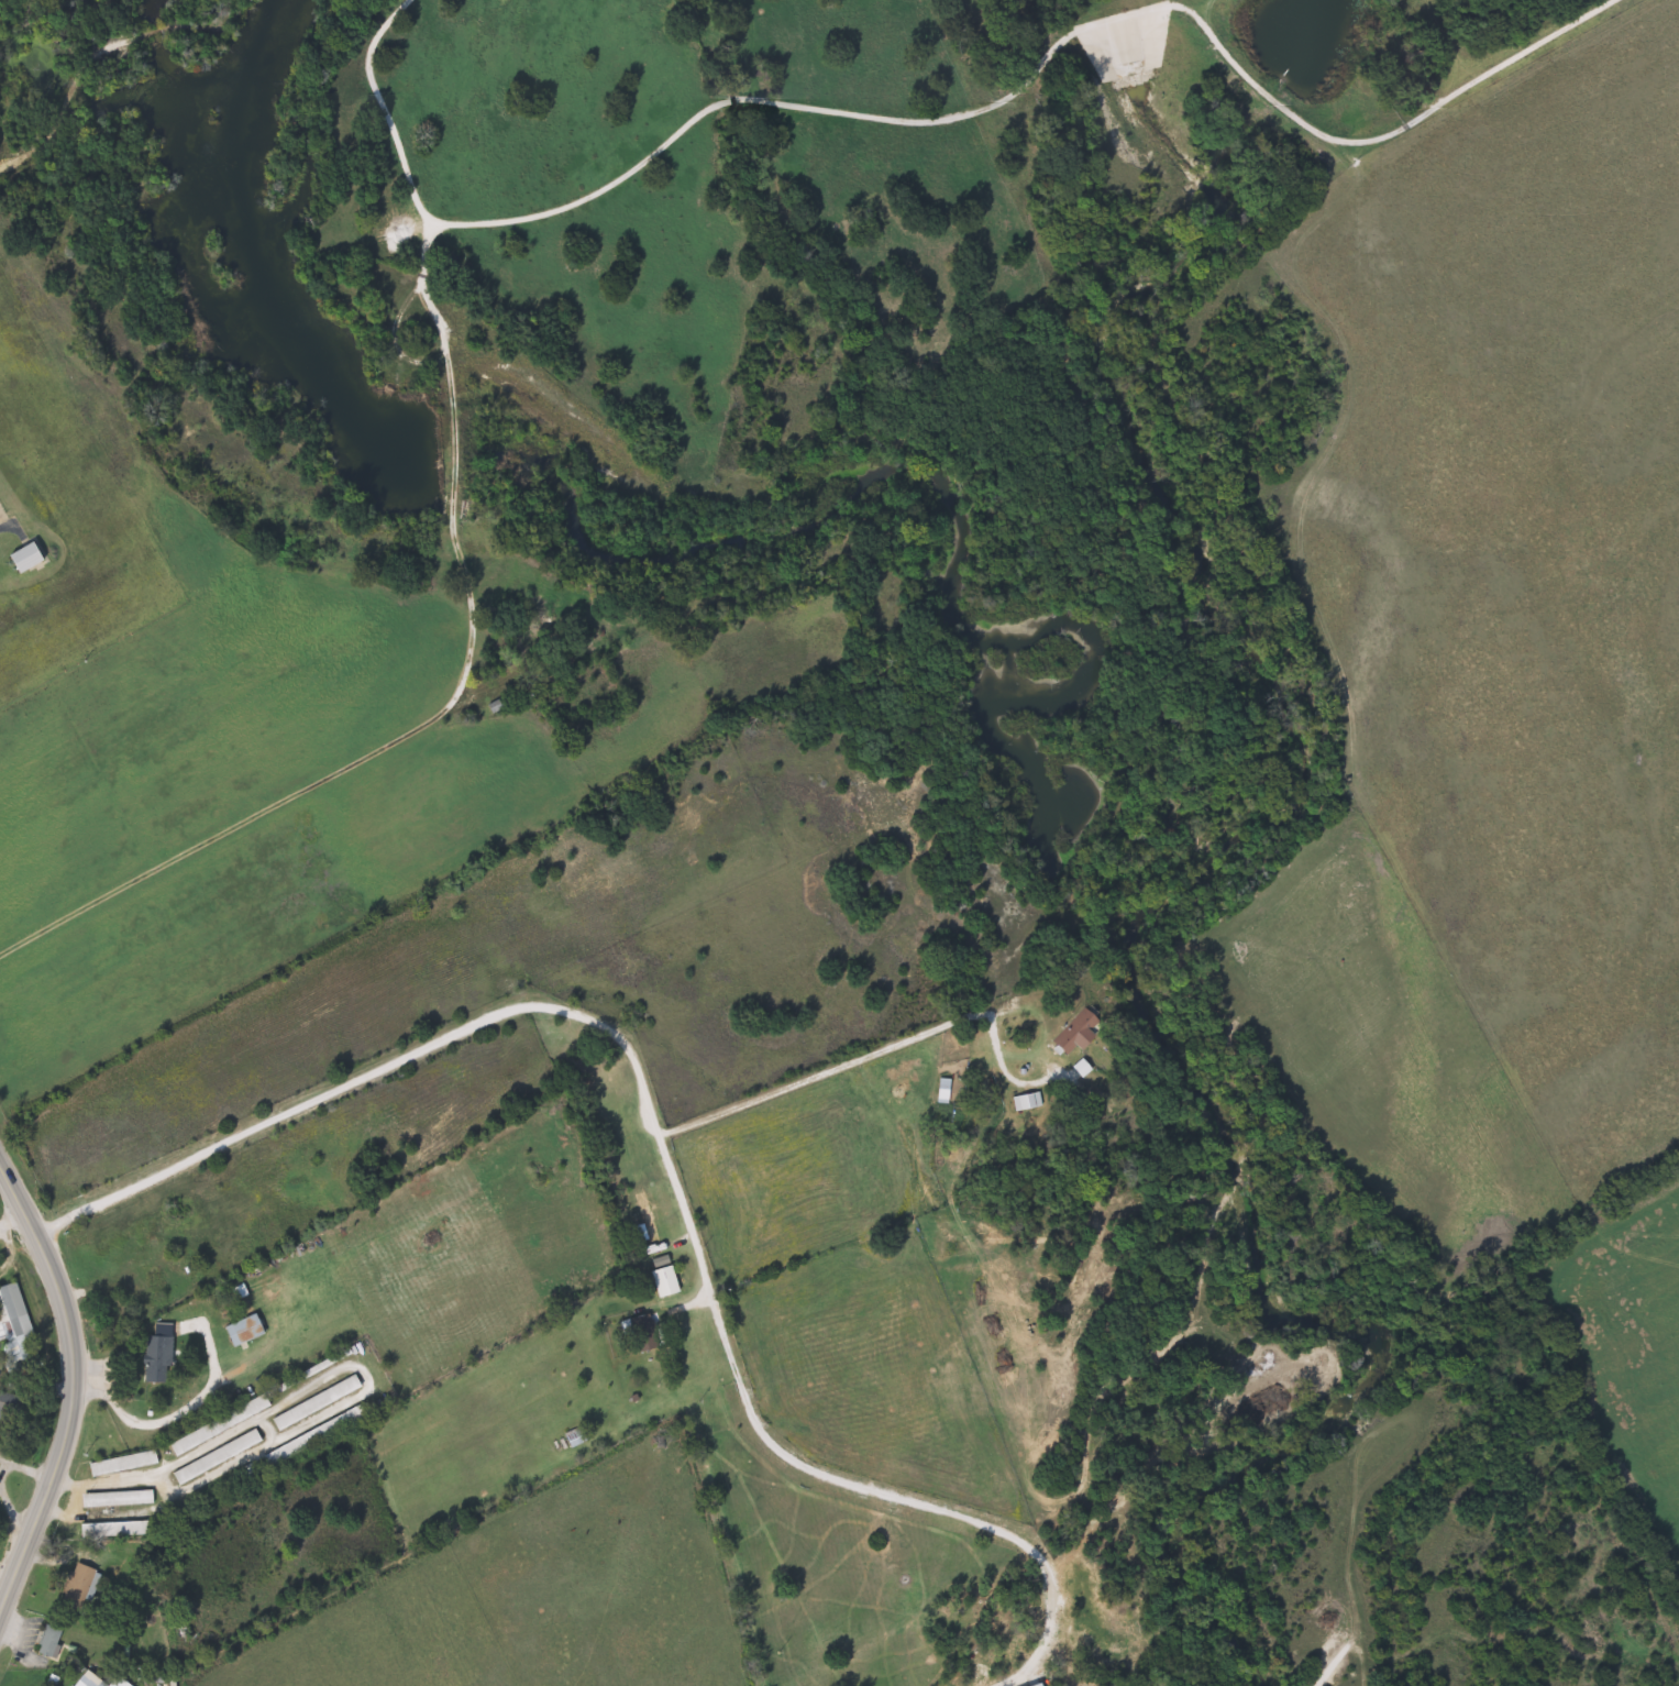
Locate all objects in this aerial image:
road: (54, 117)
road: (678, 118)
road: (1372, 126)
road: (456, 456)
building: (32, 559)
building: (542, 605)
road: (230, 825)
building: (1082, 1032)
road: (445, 1039)
road: (882, 1051)
building: (947, 1091)
road: (108, 1203)
road: (12, 1217)
building: (651, 1217)
building: (667, 1278)
building: (19, 1330)
building: (250, 1331)
building: (649, 1334)
building: (162, 1359)
road: (74, 1385)
road: (367, 1387)
building: (9, 1404)
road: (164, 1418)
building: (224, 1425)
building: (309, 1442)
building: (0, 1455)
building: (222, 1457)
building: (128, 1464)
road: (826, 1474)
road: (0, 1475)
building: (122, 1499)
building: (118, 1530)
building: (86, 1582)
building: (55, 1639)
building: (95, 1681)
building: (123, 1683)

